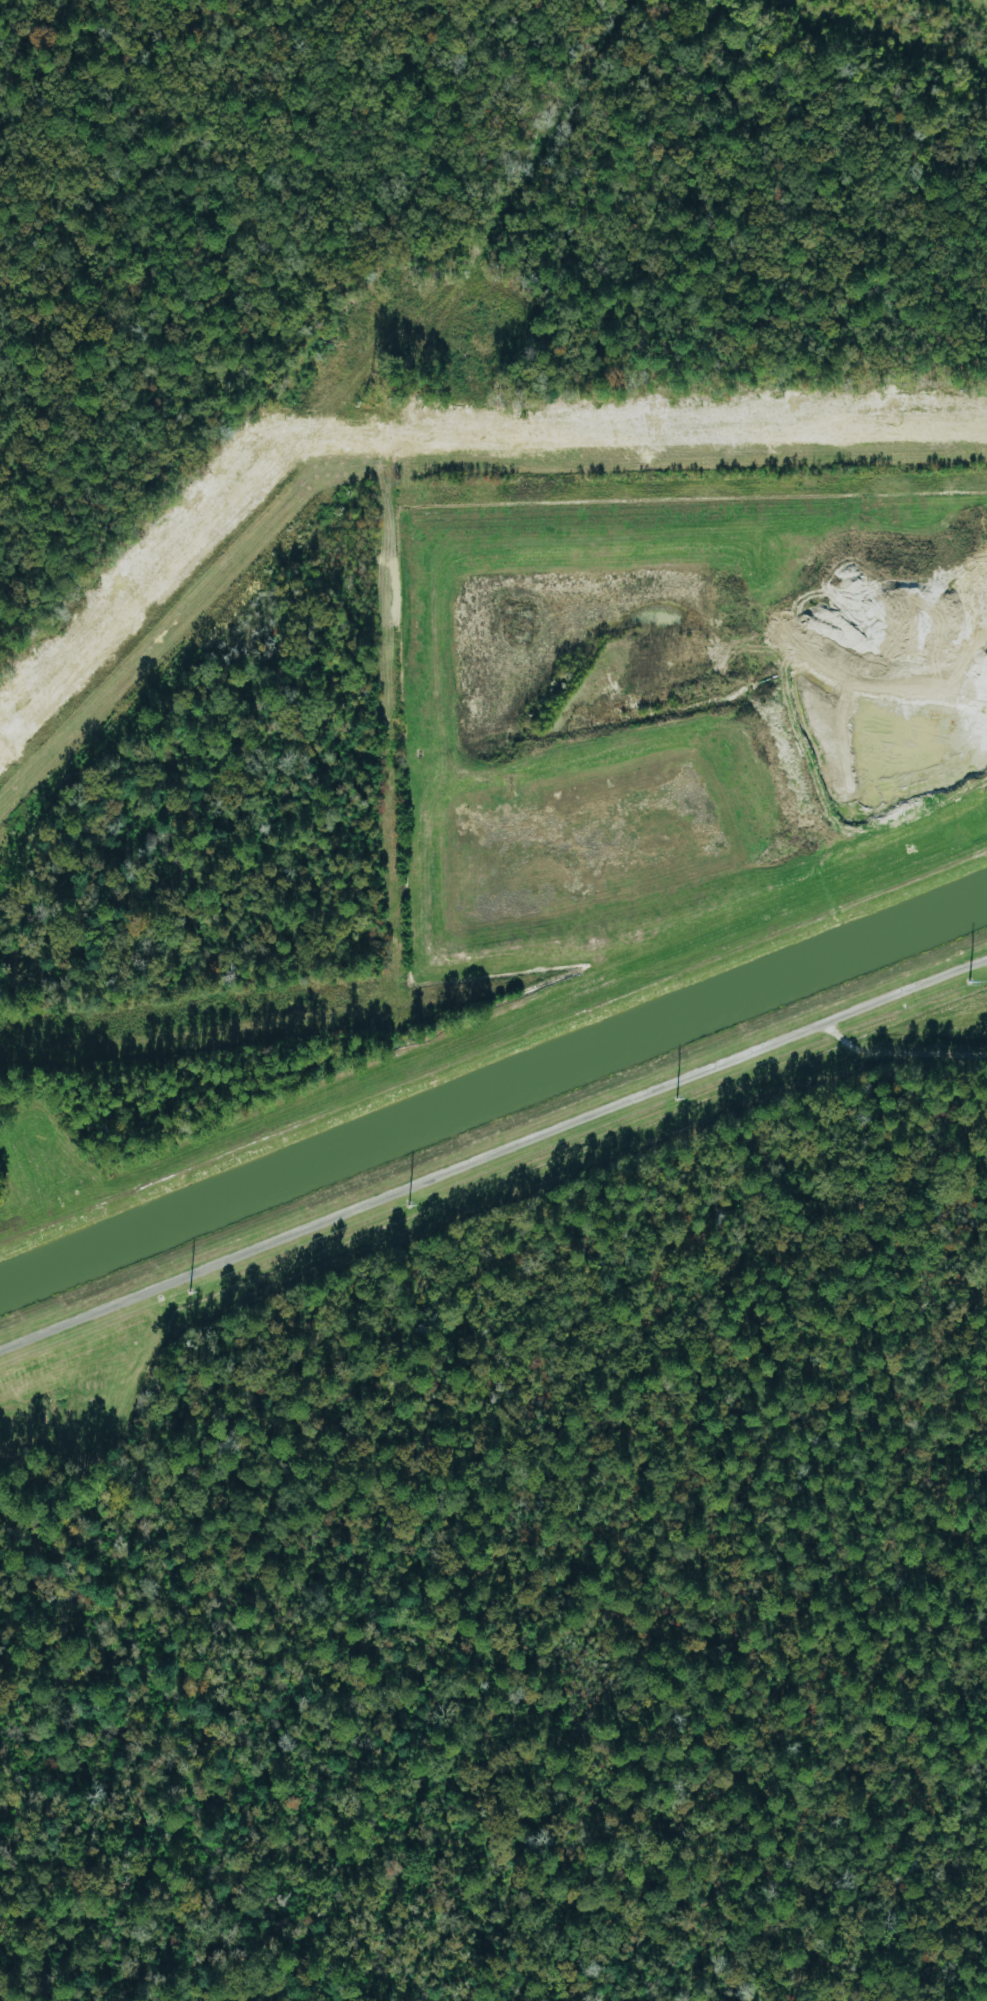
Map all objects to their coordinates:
road: (492, 1152)

